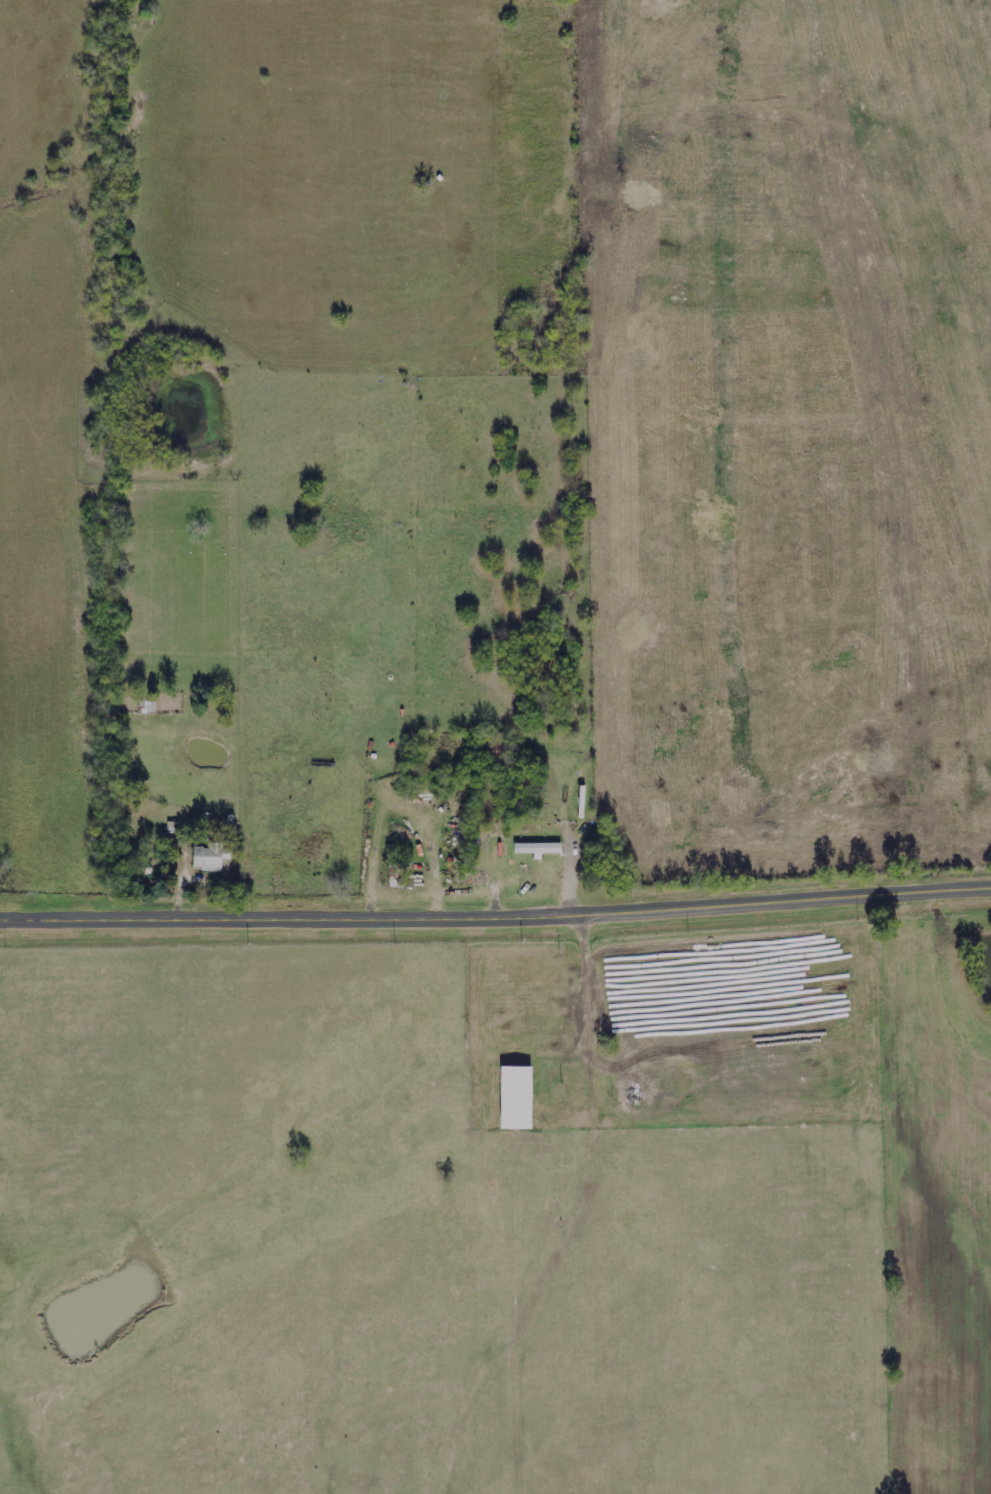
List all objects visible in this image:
road: (568, 459)
building: (540, 849)
building: (213, 857)
road: (495, 921)
building: (519, 1098)

